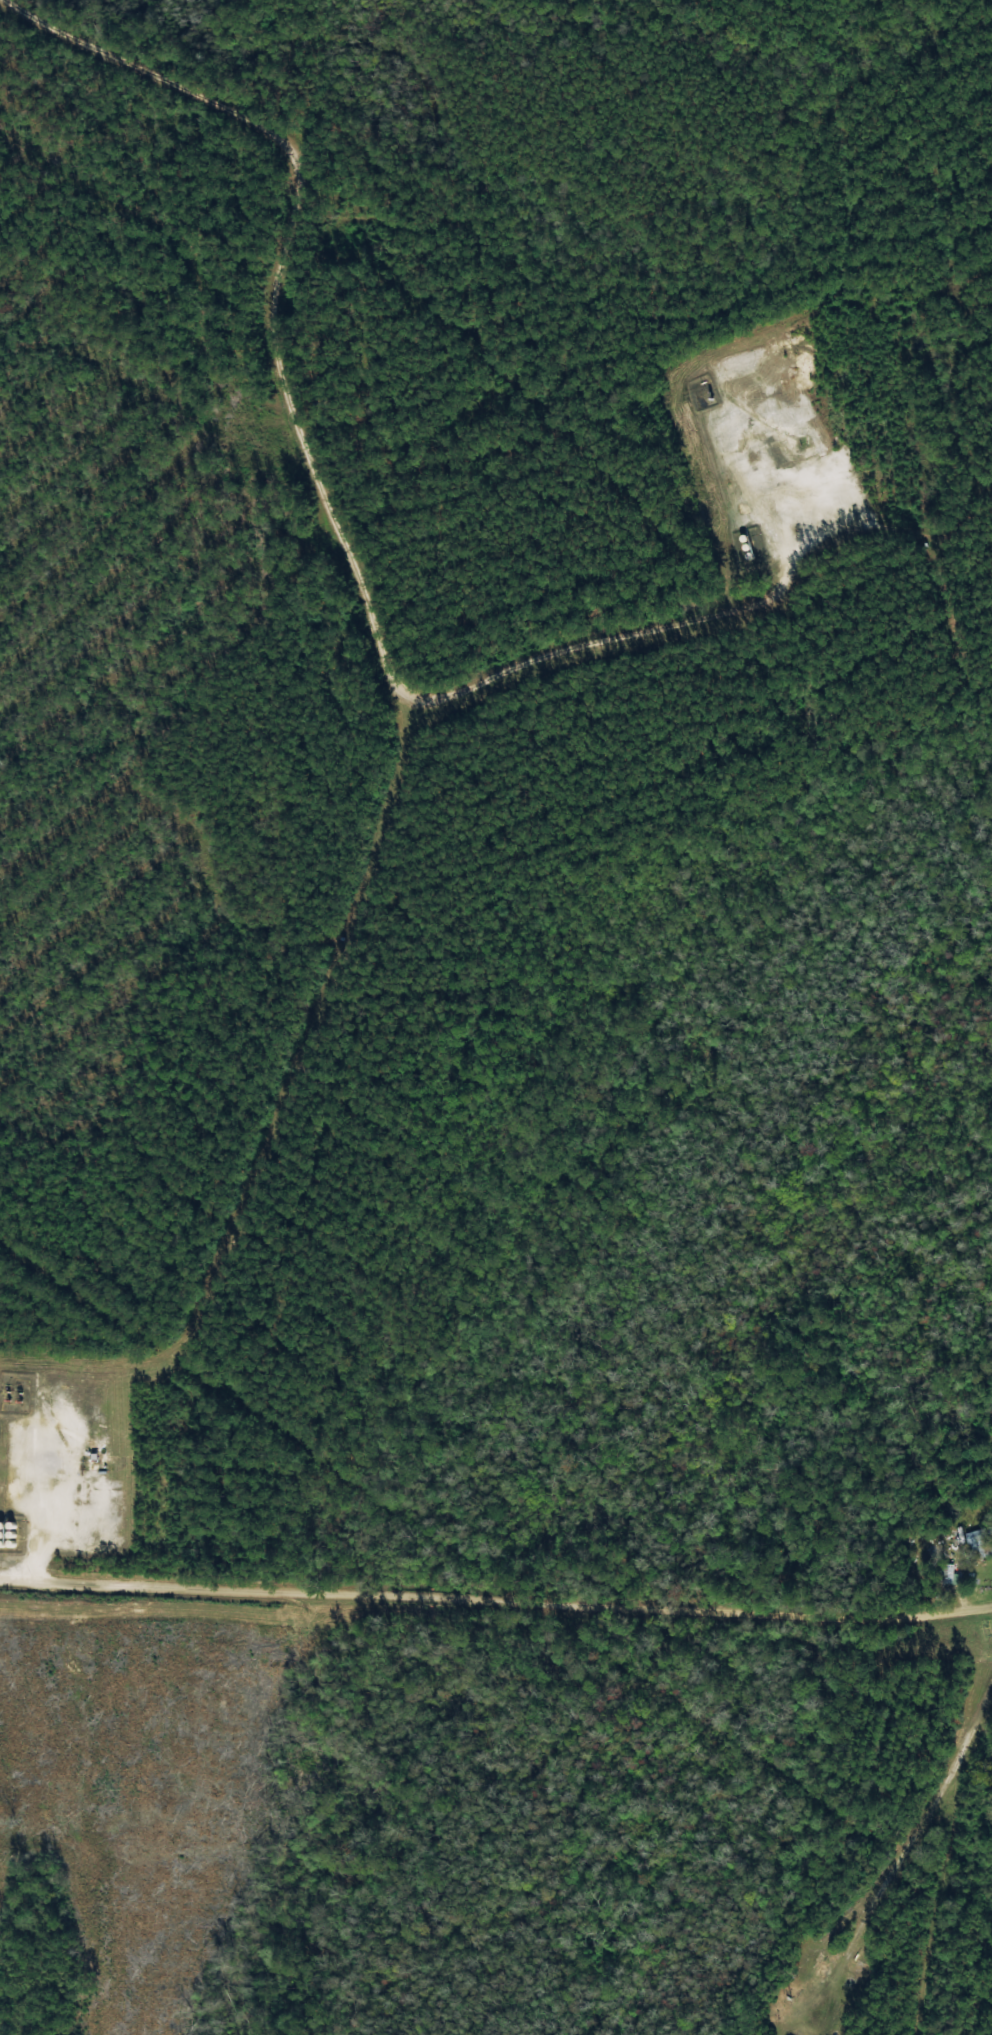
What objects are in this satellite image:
building: (970, 1537)
road: (496, 1624)
road: (942, 1888)

